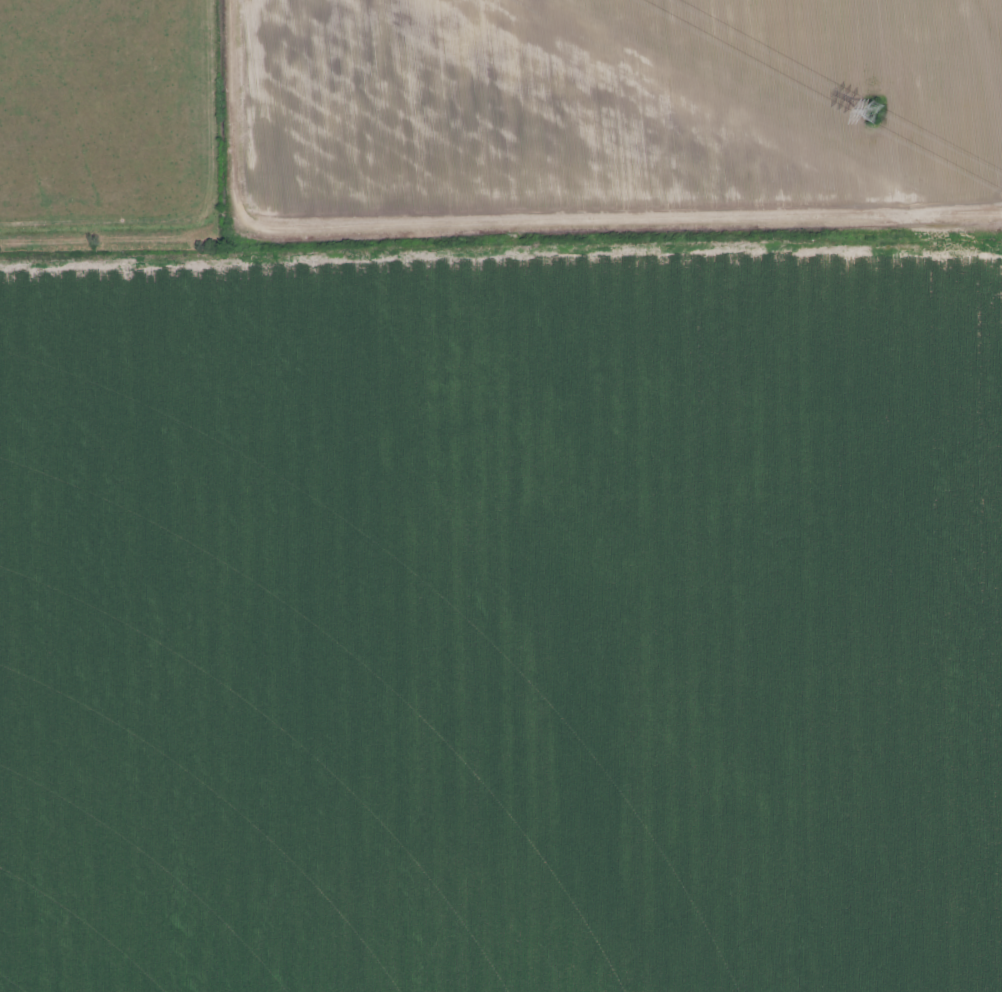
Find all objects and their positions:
power tower: (870, 111)
road: (501, 205)

